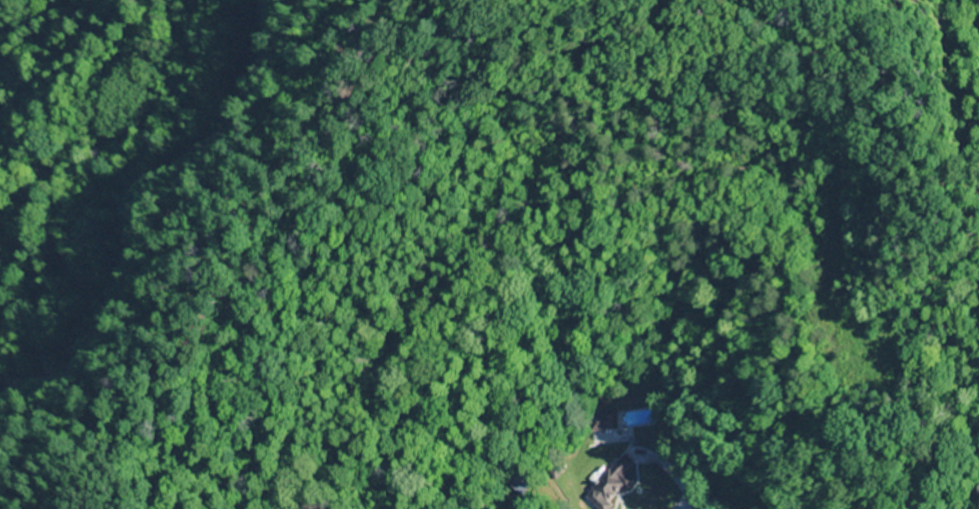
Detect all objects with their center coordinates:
building: (613, 482)

